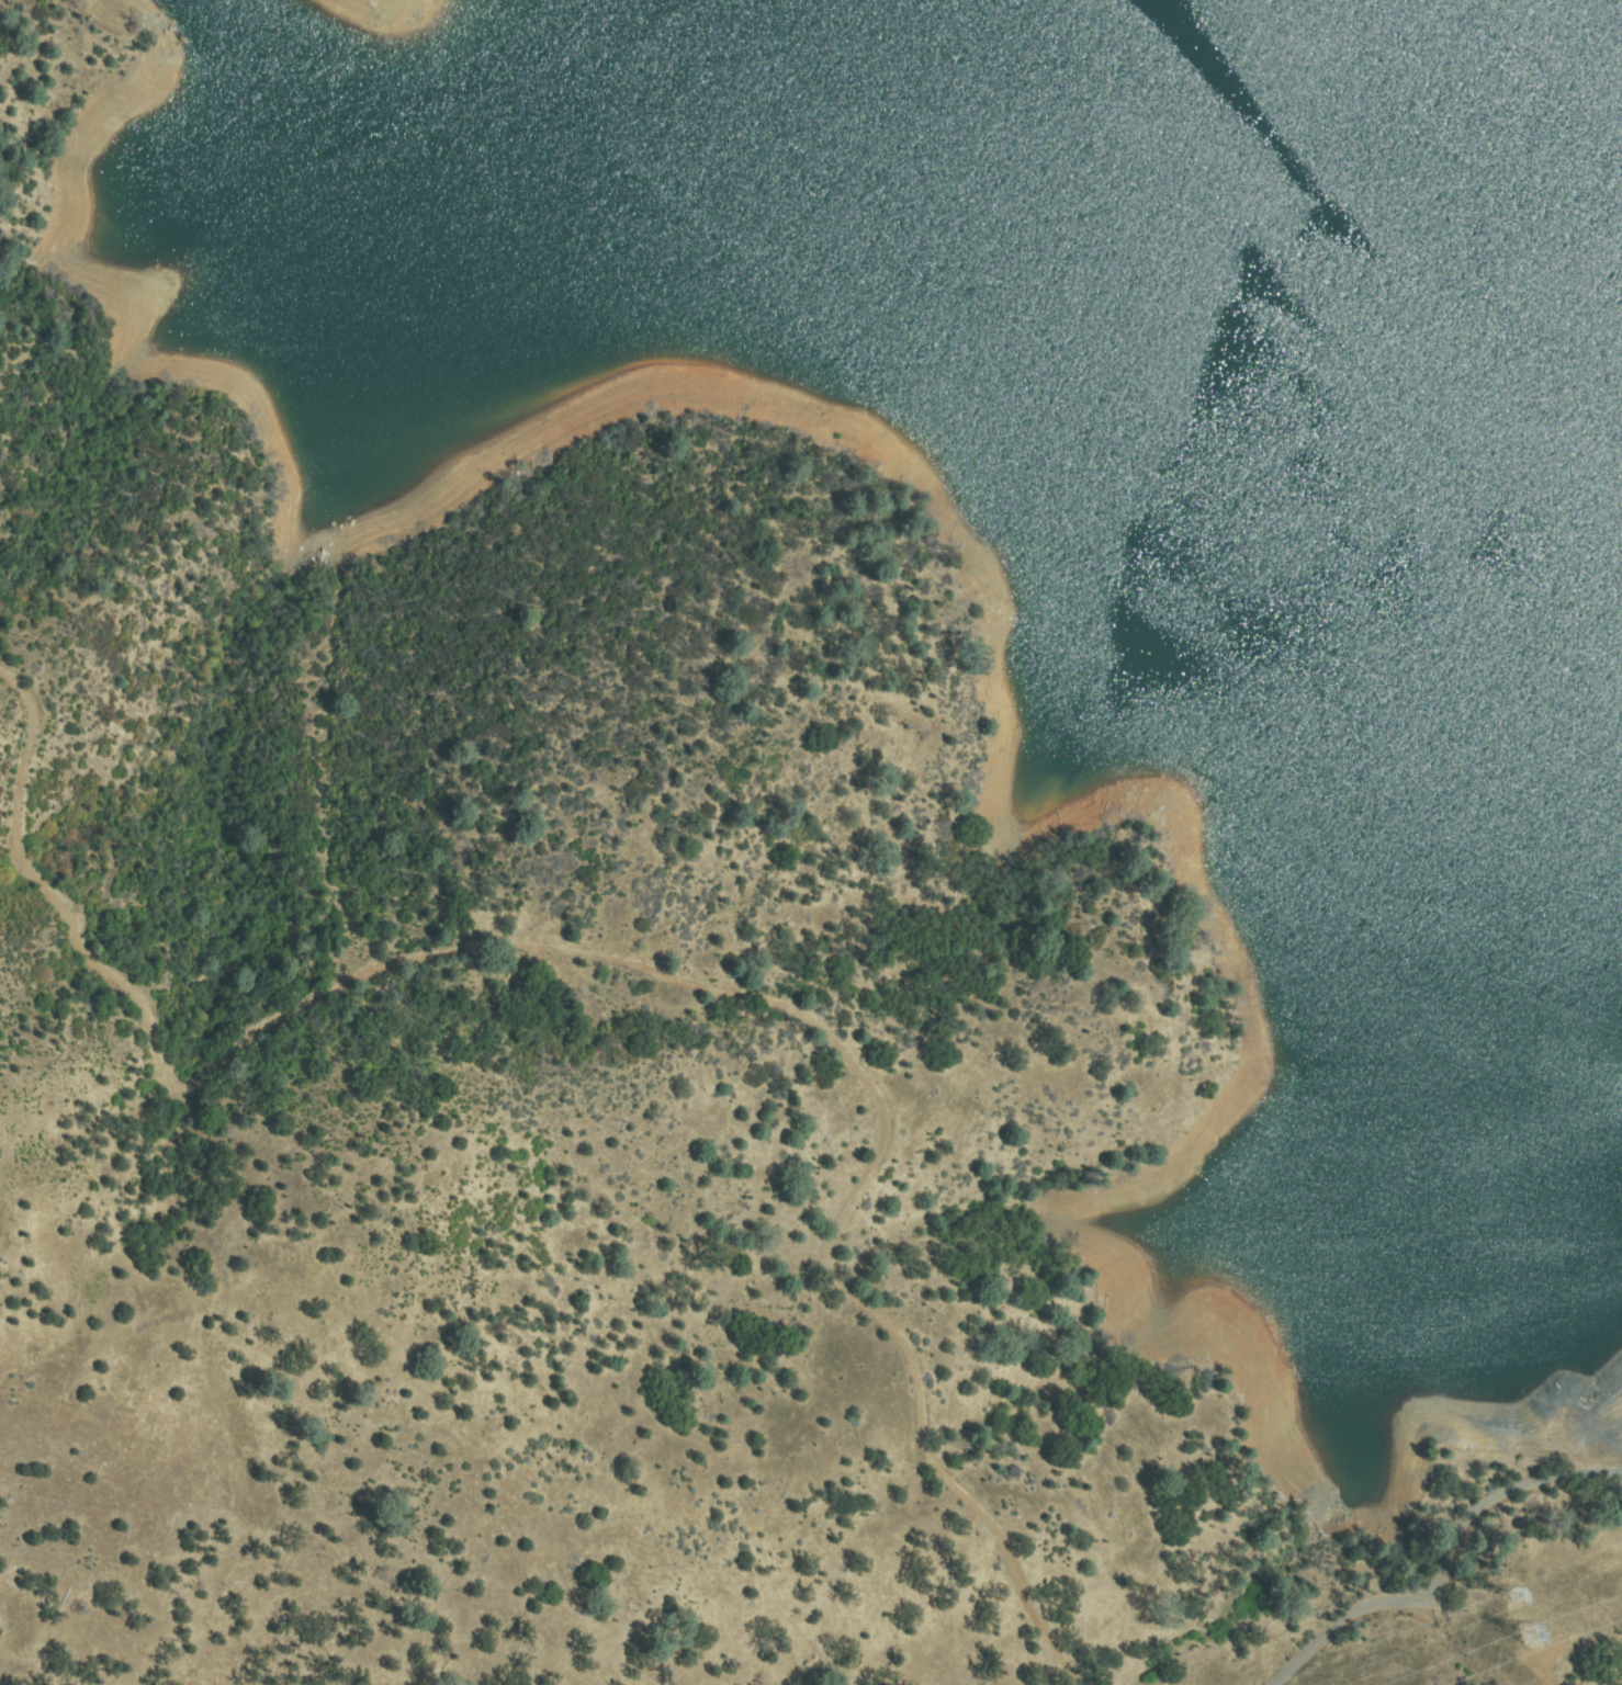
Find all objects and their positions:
road: (1454, 1584)
power tower: (1518, 1599)
power tower: (1532, 1638)

